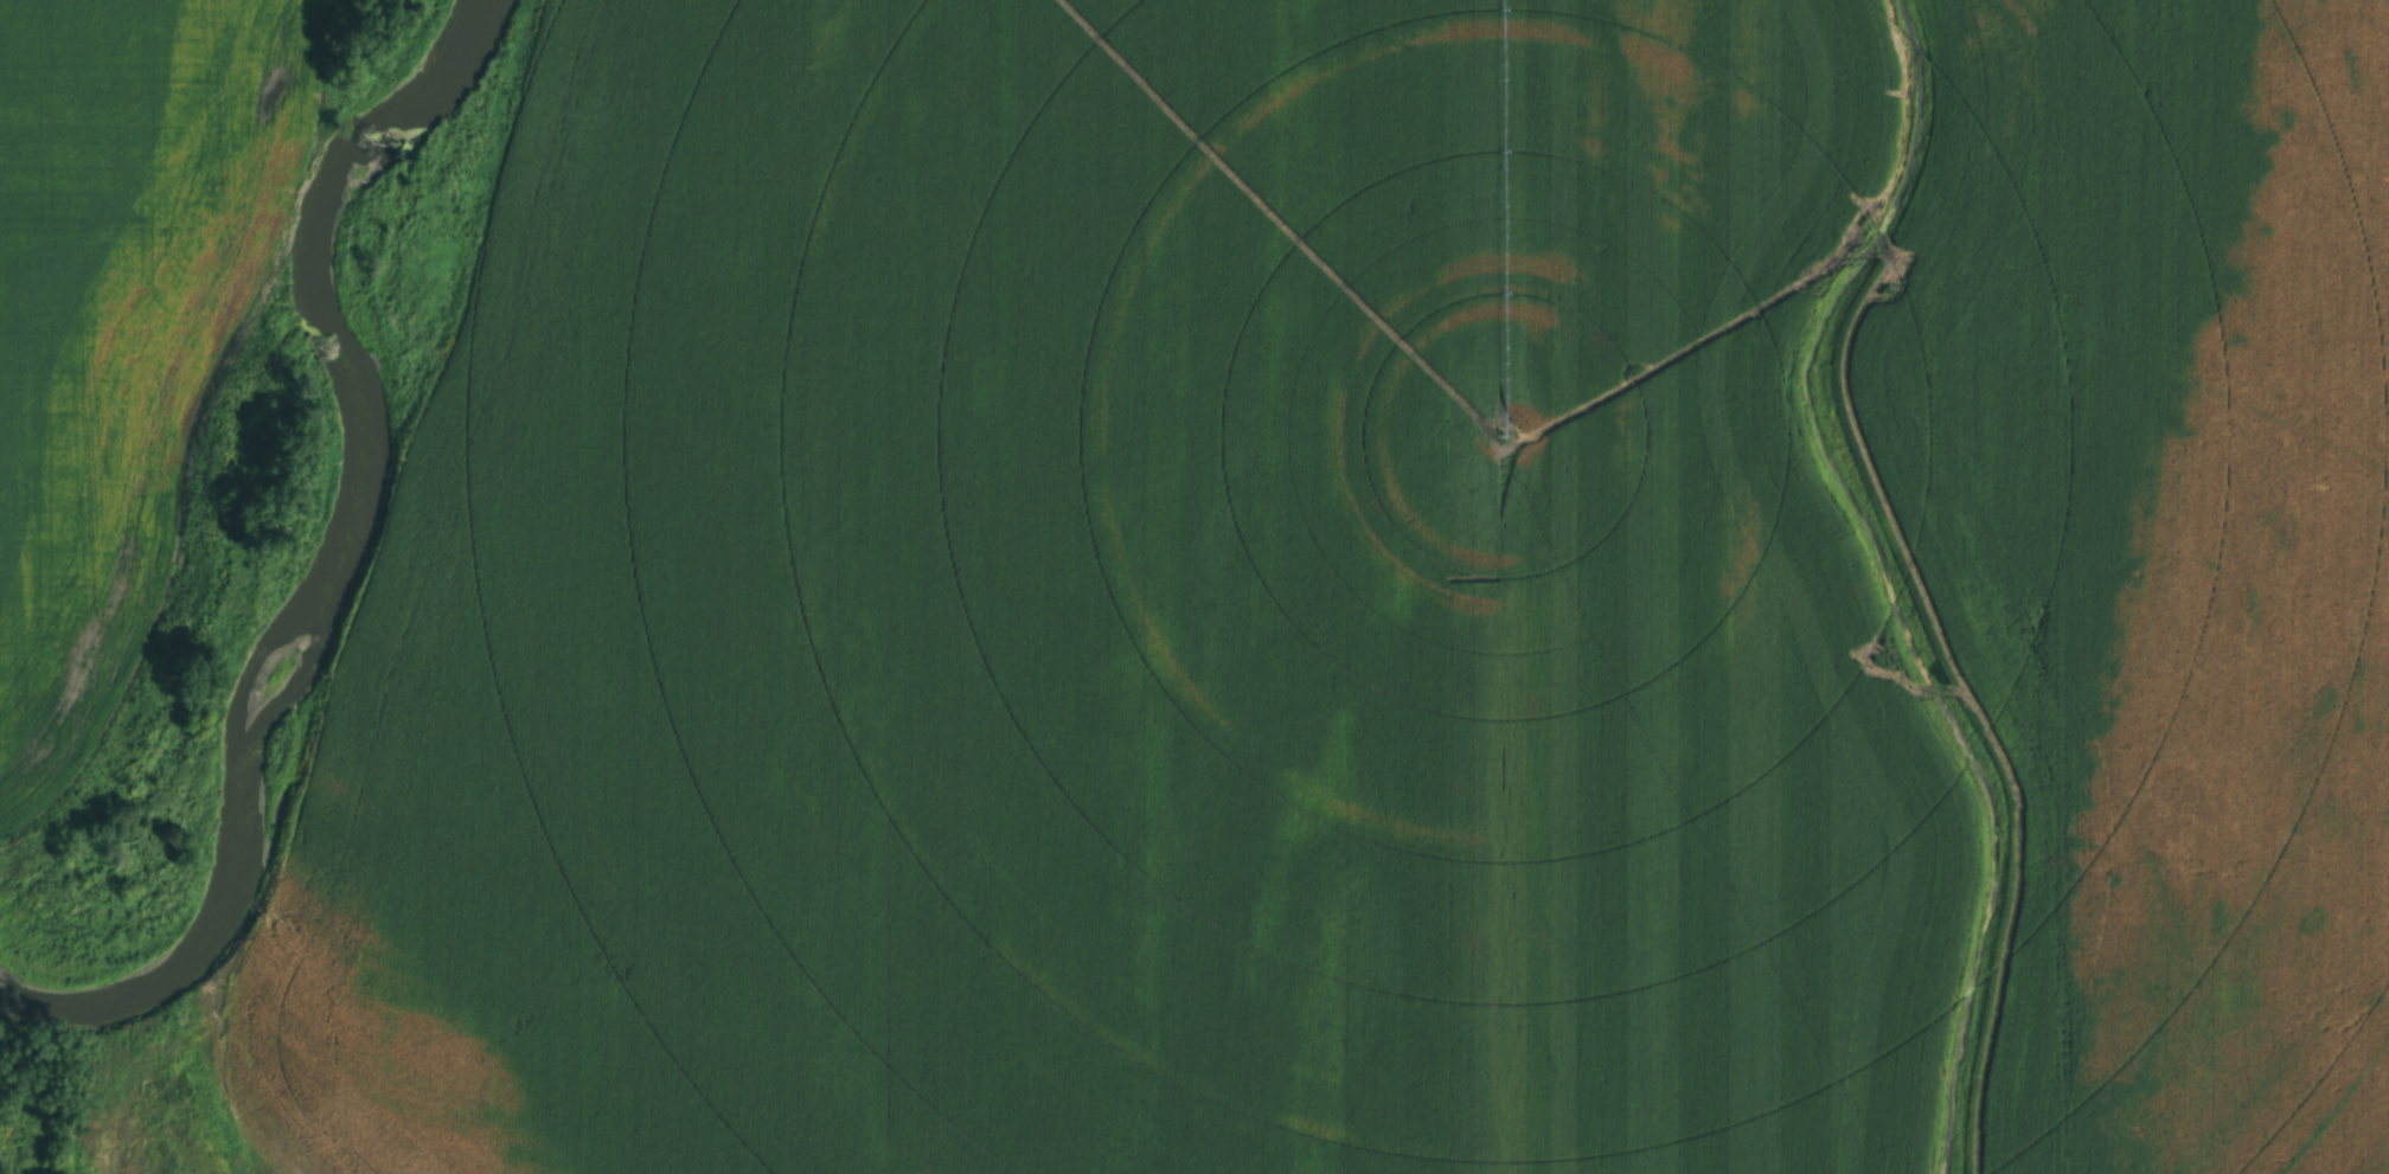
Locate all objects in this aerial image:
river: (345, 562)

